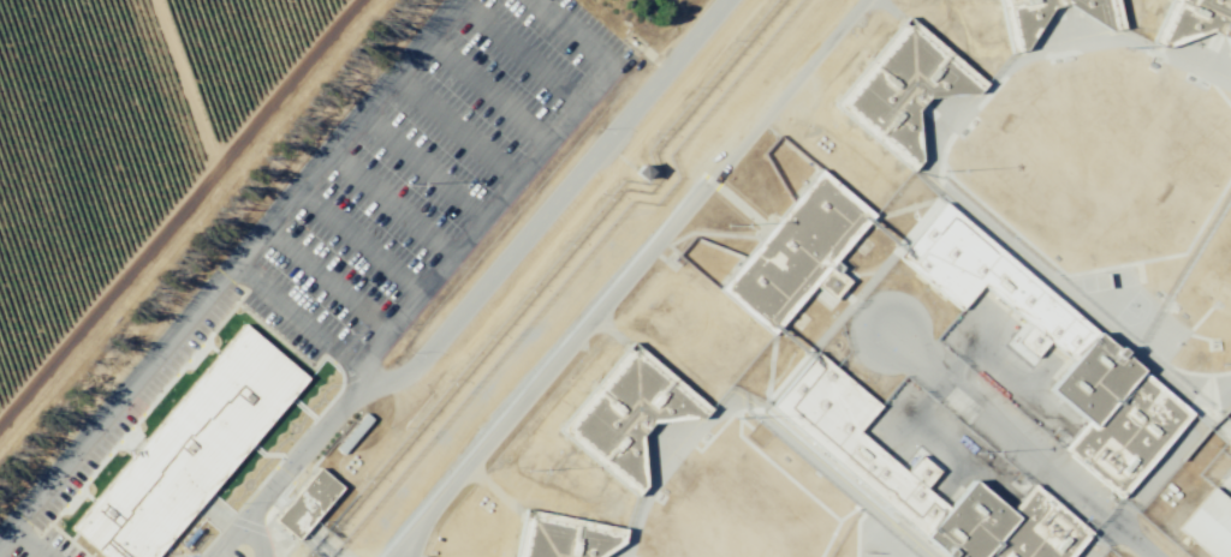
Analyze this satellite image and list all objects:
building: (1019, 16)
building: (1193, 20)
road: (576, 34)
road: (524, 53)
building: (898, 89)
road: (489, 90)
crop: (105, 126)
road: (456, 131)
road: (424, 167)
building: (637, 172)
road: (391, 205)
road: (185, 220)
road: (361, 241)
building: (796, 252)
road: (230, 270)
road: (328, 280)
road: (434, 280)
road: (480, 292)
building: (1068, 335)
road: (362, 379)
building: (626, 413)
building: (1227, 442)
building: (186, 449)
building: (855, 455)
building: (305, 503)
building: (1208, 525)
building: (561, 535)
road: (257, 537)
road: (31, 540)

